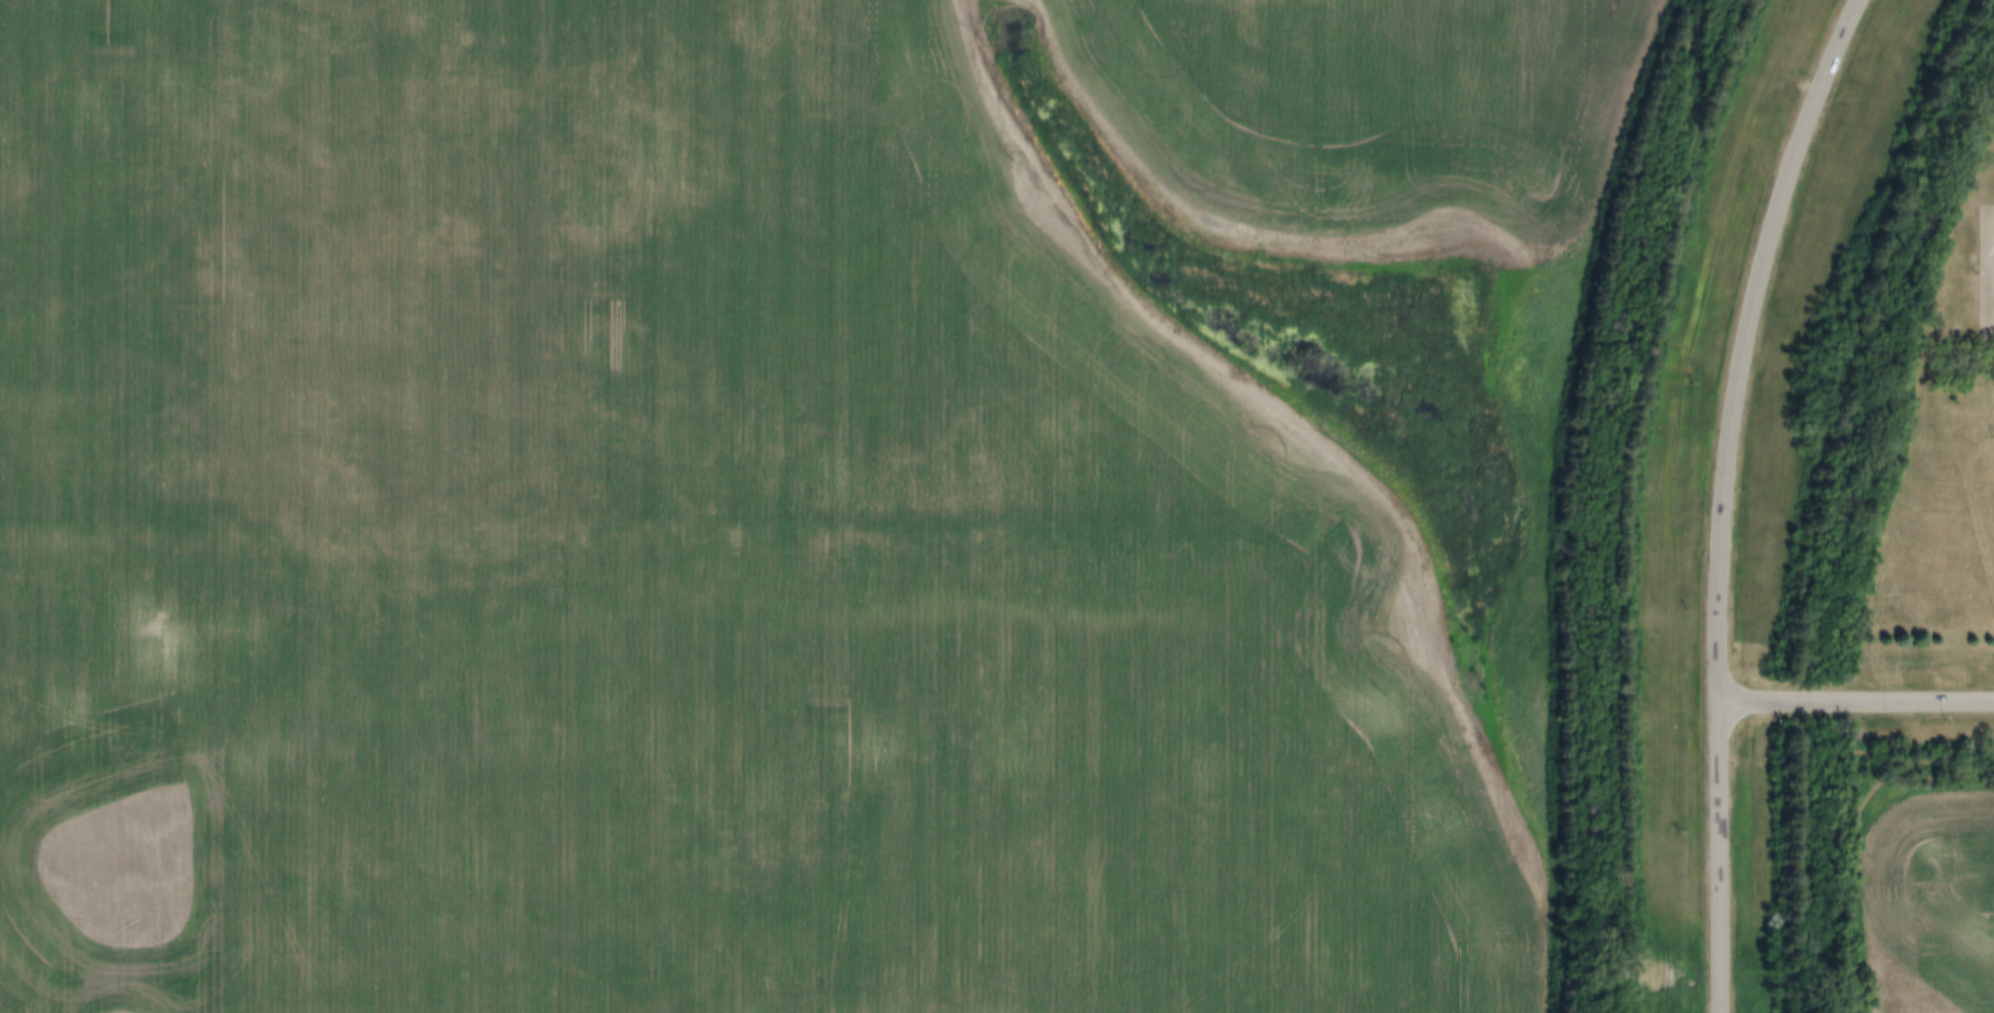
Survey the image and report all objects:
road: (1724, 496)
road: (1856, 700)

